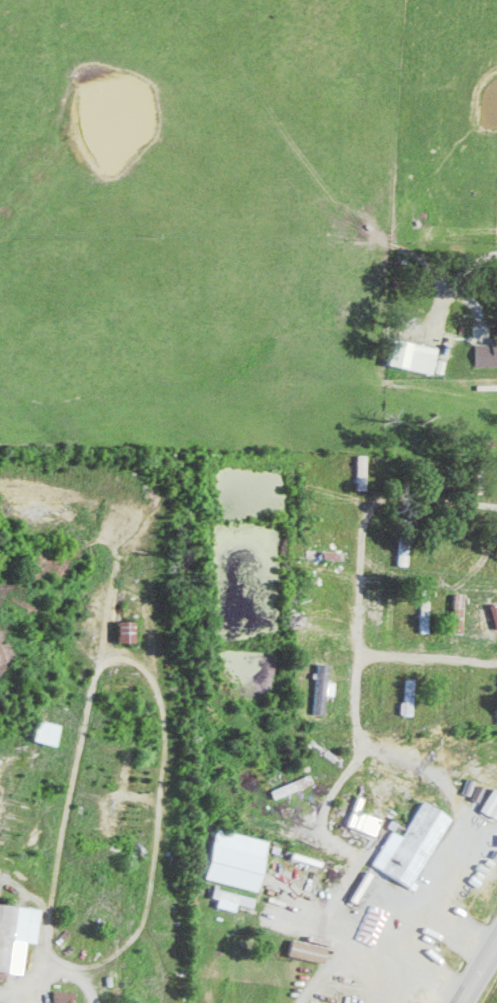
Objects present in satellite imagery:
building: (488, 354)
building: (419, 355)
building: (463, 613)
building: (131, 632)
building: (329, 688)
building: (415, 698)
road: (83, 732)
building: (51, 733)
building: (494, 807)
building: (370, 819)
building: (420, 845)
building: (242, 859)
building: (238, 900)
building: (18, 934)
building: (315, 950)
road: (489, 966)
road: (473, 991)
building: (69, 996)

